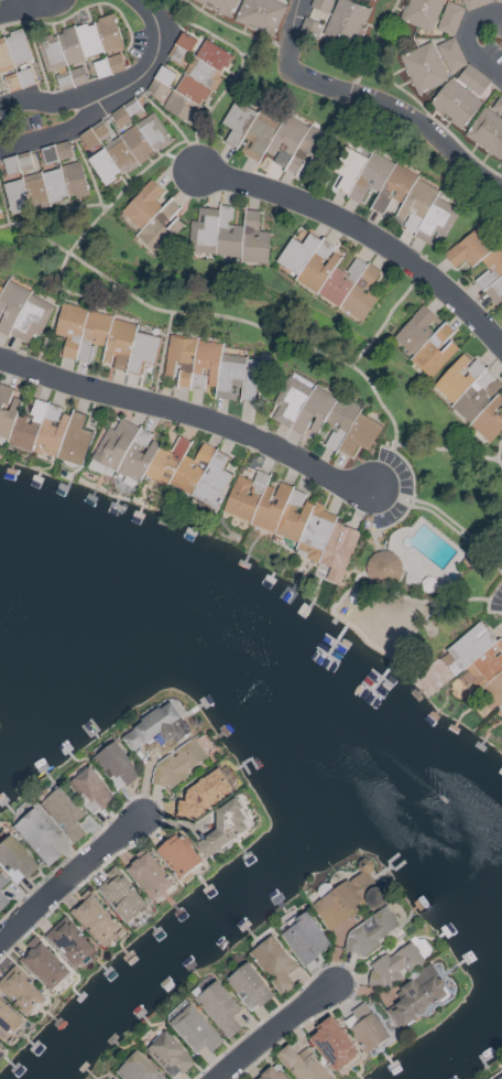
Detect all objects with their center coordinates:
building: (283, 0)
building: (498, 1)
building: (473, 3)
road: (15, 6)
building: (219, 6)
building: (319, 8)
building: (419, 13)
building: (260, 14)
building: (449, 19)
building: (338, 25)
road: (232, 28)
road: (200, 29)
road: (290, 29)
building: (108, 33)
road: (470, 40)
building: (68, 46)
road: (35, 54)
building: (450, 55)
building: (13, 62)
building: (107, 65)
road: (148, 65)
building: (423, 67)
building: (190, 76)
building: (70, 77)
road: (356, 79)
building: (472, 79)
road: (222, 90)
road: (410, 94)
road: (43, 102)
building: (454, 102)
road: (399, 112)
road: (162, 114)
building: (120, 116)
building: (485, 131)
road: (50, 134)
building: (272, 138)
building: (122, 147)
building: (55, 152)
road: (179, 161)
road: (85, 166)
building: (74, 180)
building: (31, 184)
building: (395, 193)
building: (142, 205)
road: (3, 209)
road: (59, 211)
building: (0, 218)
building: (160, 227)
road: (364, 234)
road: (34, 235)
building: (228, 236)
building: (493, 266)
building: (329, 276)
road: (91, 298)
road: (54, 312)
building: (22, 313)
road: (194, 313)
road: (385, 319)
building: (416, 330)
building: (103, 339)
building: (434, 352)
road: (162, 358)
building: (193, 362)
building: (241, 377)
building: (466, 387)
building: (7, 410)
road: (189, 413)
building: (321, 417)
building: (488, 418)
building: (51, 433)
building: (124, 450)
road: (458, 451)
road: (500, 462)
road: (500, 466)
building: (190, 471)
road: (445, 519)
building: (292, 520)
road: (372, 541)
building: (468, 561)
building: (382, 568)
road: (467, 598)
building: (468, 669)
building: (156, 727)
building: (178, 763)
building: (116, 765)
building: (91, 789)
building: (206, 791)
building: (64, 812)
building: (223, 828)
building: (37, 835)
building: (177, 855)
building: (15, 860)
building: (148, 875)
road: (70, 877)
building: (2, 882)
building: (120, 895)
building: (343, 897)
building: (2, 900)
building: (94, 919)
building: (369, 932)
building: (305, 939)
building: (68, 942)
building: (43, 963)
building: (274, 963)
building: (393, 964)
building: (248, 986)
building: (20, 992)
building: (417, 996)
building: (219, 1008)
building: (8, 1022)
building: (364, 1027)
building: (194, 1029)
road: (273, 1029)
building: (0, 1044)
building: (332, 1044)
building: (168, 1055)
building: (302, 1064)
building: (138, 1068)
building: (271, 1075)

